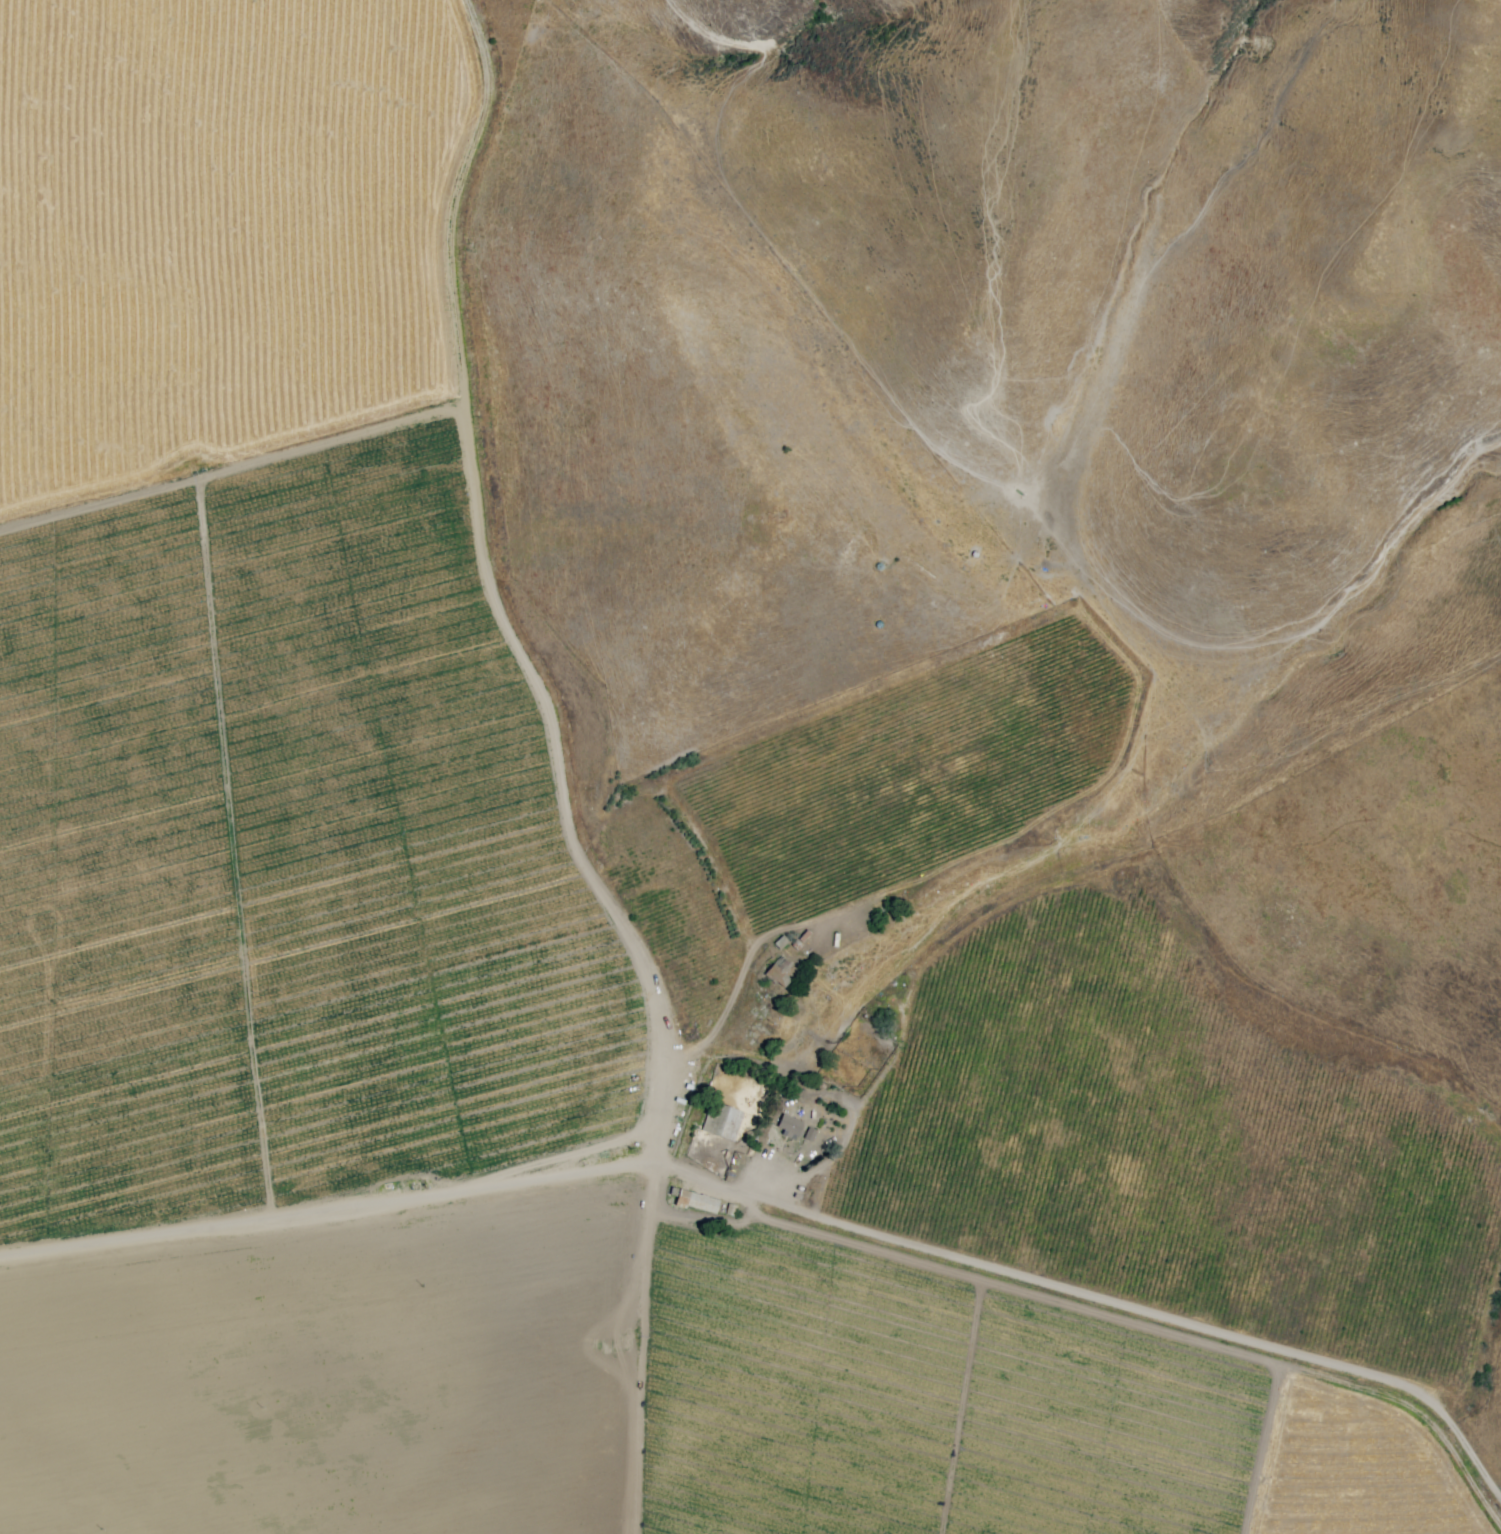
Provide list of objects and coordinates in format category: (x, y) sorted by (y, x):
crop: (591, 954)
building: (720, 1123)
building: (694, 1199)
road: (784, 1211)

